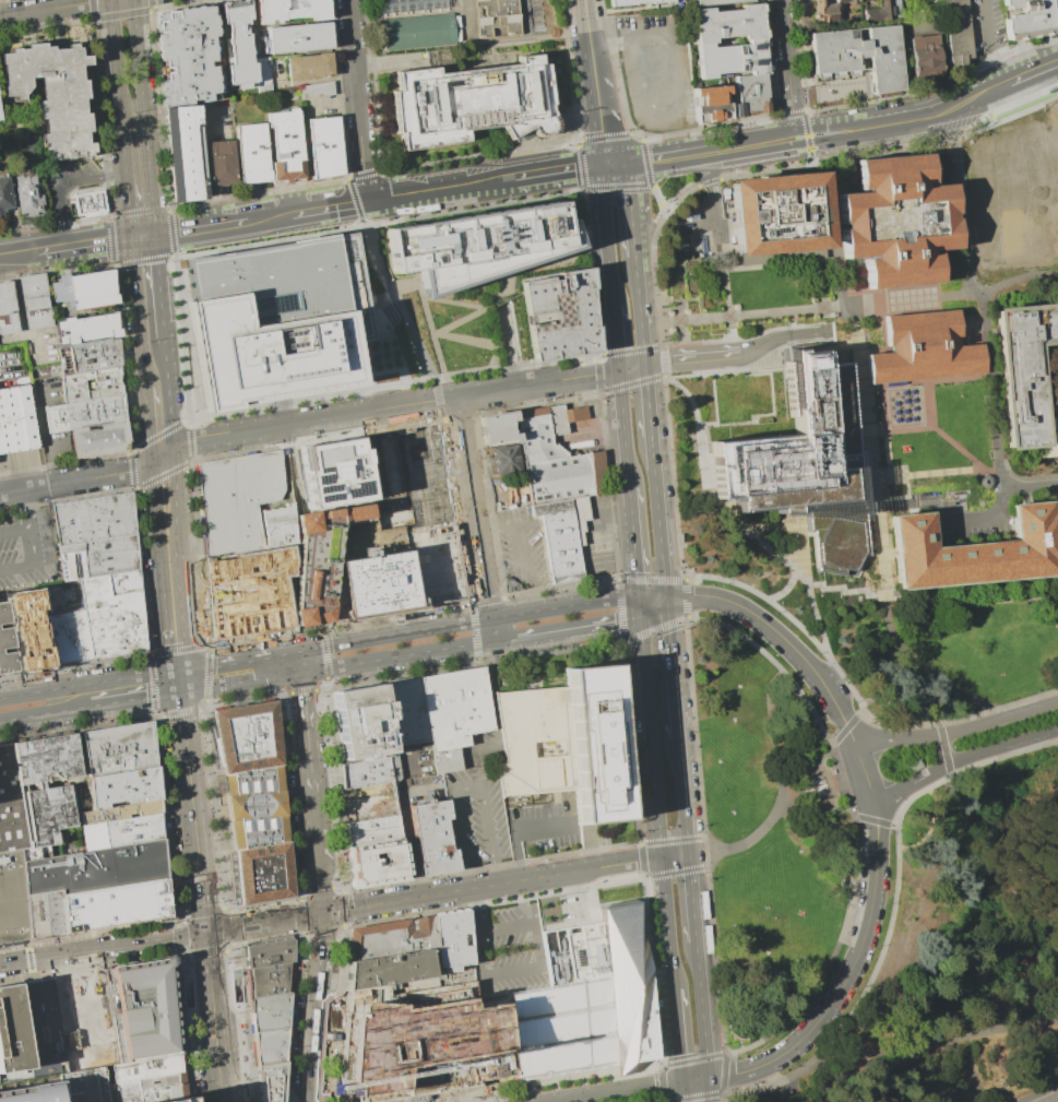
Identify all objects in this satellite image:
building: (713, 1)
building: (637, 2)
road: (55, 8)
building: (825, 9)
building: (292, 11)
building: (879, 11)
building: (496, 17)
building: (1030, 17)
road: (469, 22)
building: (413, 23)
building: (726, 23)
road: (587, 24)
building: (956, 33)
building: (299, 37)
building: (243, 43)
road: (989, 43)
road: (604, 45)
road: (658, 48)
building: (859, 55)
building: (924, 55)
building: (191, 56)
building: (729, 58)
road: (115, 61)
building: (311, 67)
parking lot: (657, 69)
road: (789, 69)
road: (1031, 70)
building: (266, 73)
road: (1057, 87)
building: (319, 90)
building: (748, 94)
building: (52, 95)
road: (355, 99)
road: (965, 100)
road: (1056, 103)
building: (473, 104)
building: (709, 104)
road: (598, 106)
road: (143, 116)
road: (804, 119)
road: (866, 127)
road: (801, 137)
road: (947, 137)
road: (890, 141)
building: (288, 146)
building: (326, 146)
road: (797, 147)
road: (807, 147)
road: (721, 150)
building: (191, 152)
building: (255, 153)
road: (819, 158)
building: (226, 162)
road: (626, 163)
traffic signals: (607, 165)
road: (559, 170)
road: (679, 170)
road: (647, 174)
road: (126, 180)
road: (59, 181)
road: (492, 181)
parking lot: (67, 183)
road: (639, 186)
road: (627, 188)
road: (417, 192)
building: (4, 194)
building: (27, 195)
road: (656, 195)
building: (1009, 198)
building: (88, 203)
road: (663, 206)
road: (664, 208)
road: (317, 209)
road: (357, 211)
building: (776, 213)
building: (0, 214)
road: (243, 220)
building: (896, 221)
road: (186, 229)
road: (835, 232)
traffic signals: (154, 234)
road: (604, 235)
road: (142, 236)
traffic signals: (131, 238)
road: (631, 242)
road: (83, 244)
building: (477, 244)
road: (17, 252)
road: (384, 252)
road: (754, 258)
road: (506, 275)
road: (653, 276)
road: (489, 277)
road: (158, 287)
building: (83, 289)
road: (418, 289)
road: (972, 293)
road: (15, 294)
road: (982, 298)
road: (396, 300)
building: (33, 301)
road: (855, 305)
road: (840, 306)
building: (5, 307)
road: (775, 311)
road: (138, 312)
building: (559, 312)
road: (639, 315)
building: (274, 319)
building: (87, 330)
parking lot: (833, 331)
road: (433, 332)
road: (782, 334)
road: (615, 337)
road: (395, 342)
road: (926, 342)
road: (659, 345)
road: (510, 346)
building: (925, 351)
building: (92, 357)
road: (691, 358)
traffic signals: (645, 365)
traffic signals: (618, 370)
building: (1030, 371)
road: (550, 380)
road: (119, 381)
road: (964, 382)
building: (76, 384)
road: (873, 388)
road: (405, 392)
road: (436, 392)
road: (168, 398)
road: (369, 398)
road: (647, 400)
road: (865, 401)
road: (370, 411)
building: (84, 414)
building: (16, 422)
road: (147, 422)
road: (622, 428)
road: (887, 431)
road: (222, 432)
road: (43, 435)
building: (100, 440)
road: (889, 454)
building: (504, 459)
road: (970, 460)
building: (805, 461)
road: (295, 465)
building: (336, 473)
road: (926, 474)
building: (407, 476)
road: (83, 478)
building: (550, 479)
road: (705, 487)
road: (1032, 487)
road: (900, 497)
building: (242, 503)
road: (878, 503)
road: (476, 506)
building: (93, 517)
road: (657, 517)
road: (433, 522)
road: (950, 523)
road: (768, 528)
building: (26, 536)
road: (632, 542)
road: (878, 549)
building: (976, 550)
building: (97, 555)
building: (320, 559)
road: (171, 560)
building: (436, 564)
rooftop solar panel: (69, 566)
rooftop solar panel: (76, 566)
building: (121, 580)
building: (378, 582)
road: (820, 586)
building: (248, 591)
road: (843, 591)
road: (980, 591)
road: (808, 593)
road: (865, 593)
building: (338, 597)
traffic signals: (638, 597)
traffic signals: (665, 600)
road: (759, 604)
road: (639, 607)
road: (652, 608)
road: (543, 609)
building: (3, 612)
building: (110, 617)
traffic signals: (640, 617)
building: (27, 629)
road: (492, 629)
road: (567, 629)
road: (385, 636)
building: (68, 637)
road: (782, 637)
building: (5, 638)
road: (324, 645)
traffic signals: (298, 650)
road: (396, 656)
road: (239, 660)
building: (8, 661)
road: (299, 662)
traffic signals: (180, 670)
road: (670, 670)
road: (916, 671)
traffic signals: (300, 674)
road: (117, 678)
road: (180, 682)
road: (239, 683)
road: (38, 691)
traffic signals: (180, 694)
road: (302, 695)
road: (10, 696)
road: (122, 702)
road: (491, 704)
building: (409, 712)
building: (454, 713)
road: (181, 714)
road: (32, 715)
building: (368, 722)
building: (59, 723)
road: (842, 730)
road: (956, 731)
road: (650, 737)
building: (246, 738)
building: (568, 744)
building: (118, 748)
road: (943, 748)
road: (308, 755)
road: (836, 755)
road: (962, 756)
building: (44, 759)
road: (863, 771)
building: (371, 773)
building: (122, 789)
road: (471, 790)
road: (845, 794)
road: (682, 796)
road: (873, 801)
road: (788, 805)
building: (10, 807)
building: (255, 808)
road: (313, 810)
road: (192, 811)
building: (119, 813)
building: (46, 815)
parking lot: (478, 817)
parking lot: (547, 825)
road: (519, 829)
building: (121, 831)
building: (373, 832)
building: (435, 838)
road: (925, 839)
road: (746, 840)
road: (409, 842)
building: (35, 854)
road: (317, 854)
road: (675, 855)
building: (377, 863)
road: (603, 866)
building: (96, 868)
road: (689, 873)
building: (262, 875)
building: (231, 877)
road: (491, 885)
road: (320, 896)
building: (13, 898)
building: (168, 902)
road: (381, 903)
building: (114, 905)
road: (202, 910)
road: (475, 910)
traffic signals: (322, 913)
building: (45, 914)
road: (693, 916)
road: (263, 922)
road: (666, 922)
traffic signals: (205, 932)
building: (388, 937)
road: (230, 938)
road: (322, 938)
building: (445, 938)
road: (153, 940)
road: (180, 946)
road: (207, 952)
parking lot: (508, 952)
road: (73, 953)
road: (206, 955)
road: (23, 960)
road: (233, 962)
building: (268, 965)
building: (385, 967)
road: (186, 968)
road: (537, 968)
road: (10, 973)
road: (846, 977)
building: (589, 998)
road: (210, 1000)
road: (319, 1000)
road: (701, 1009)
building: (141, 1010)
building: (269, 1010)
building: (214, 1012)
building: (83, 1019)
building: (39, 1022)
building: (12, 1031)
road: (984, 1031)
road: (676, 1034)
road: (214, 1039)
building: (421, 1041)
road: (22, 1042)
building: (269, 1045)
road: (900, 1053)
road: (966, 1065)
building: (144, 1068)
road: (314, 1069)
road: (821, 1071)
traffic signals: (709, 1078)
road: (218, 1079)
building: (270, 1080)
road: (694, 1080)
traffic signals: (681, 1082)
building: (82, 1086)
building: (146, 1089)
building: (31, 1090)
road: (709, 1090)
road: (620, 1091)
road: (681, 1092)
building: (174, 1100)
road: (1057, 1101)

